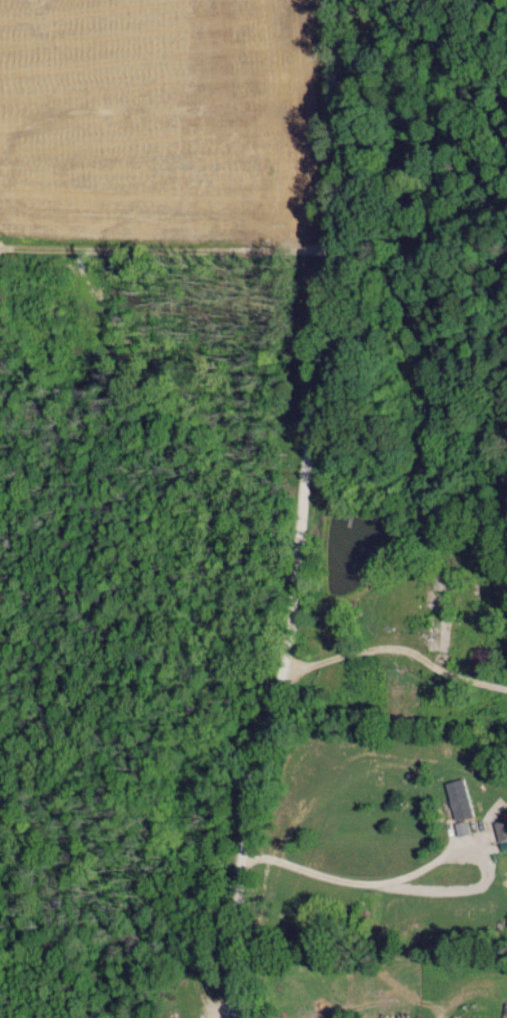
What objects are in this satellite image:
road: (310, 512)
building: (460, 799)
building: (463, 828)
building: (502, 833)

